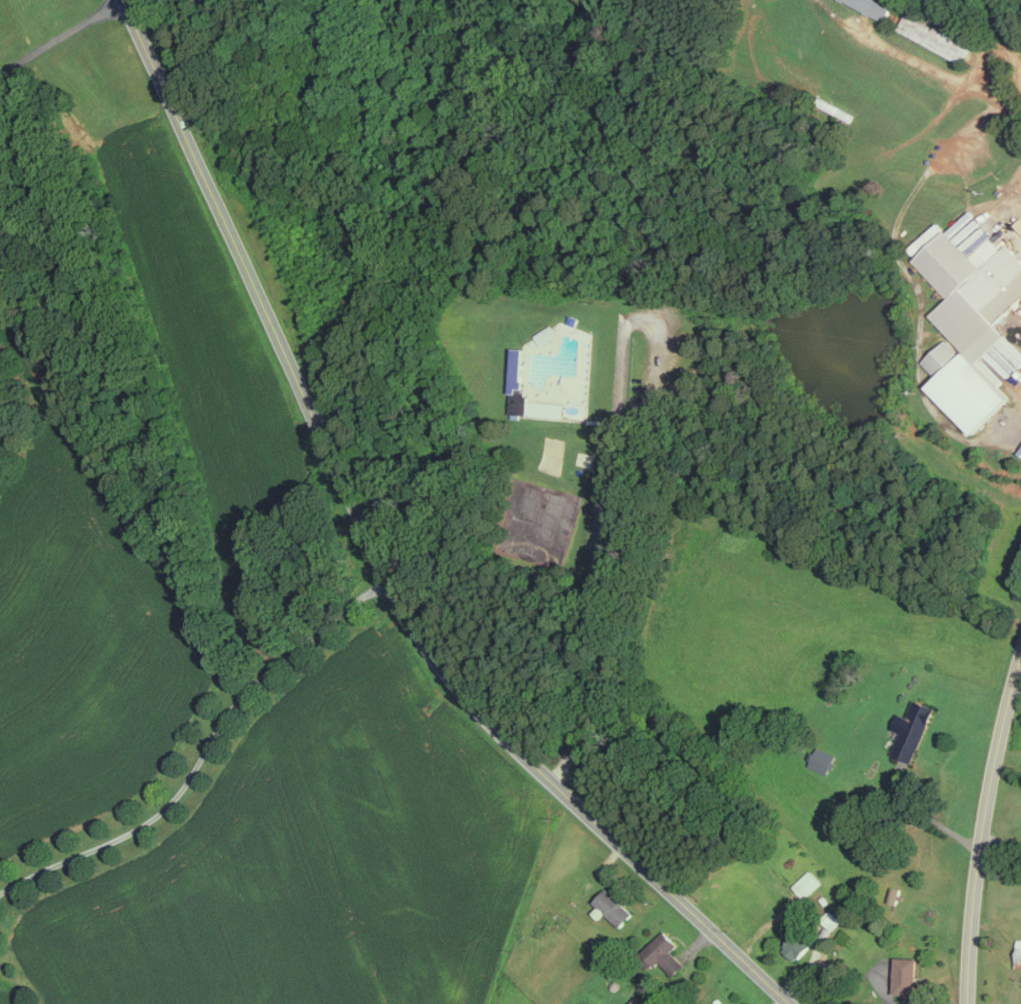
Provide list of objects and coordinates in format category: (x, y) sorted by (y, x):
building: (875, 6)
road: (60, 34)
building: (935, 37)
road: (931, 67)
building: (240, 138)
building: (928, 239)
building: (973, 322)
building: (518, 371)
road: (1017, 427)
road: (376, 557)
building: (913, 729)
road: (200, 745)
building: (823, 759)
road: (984, 826)
building: (808, 882)
building: (894, 893)
building: (612, 906)
building: (798, 944)
building: (660, 949)
building: (1019, 954)
building: (907, 974)
building: (638, 1000)
road: (779, 1000)

